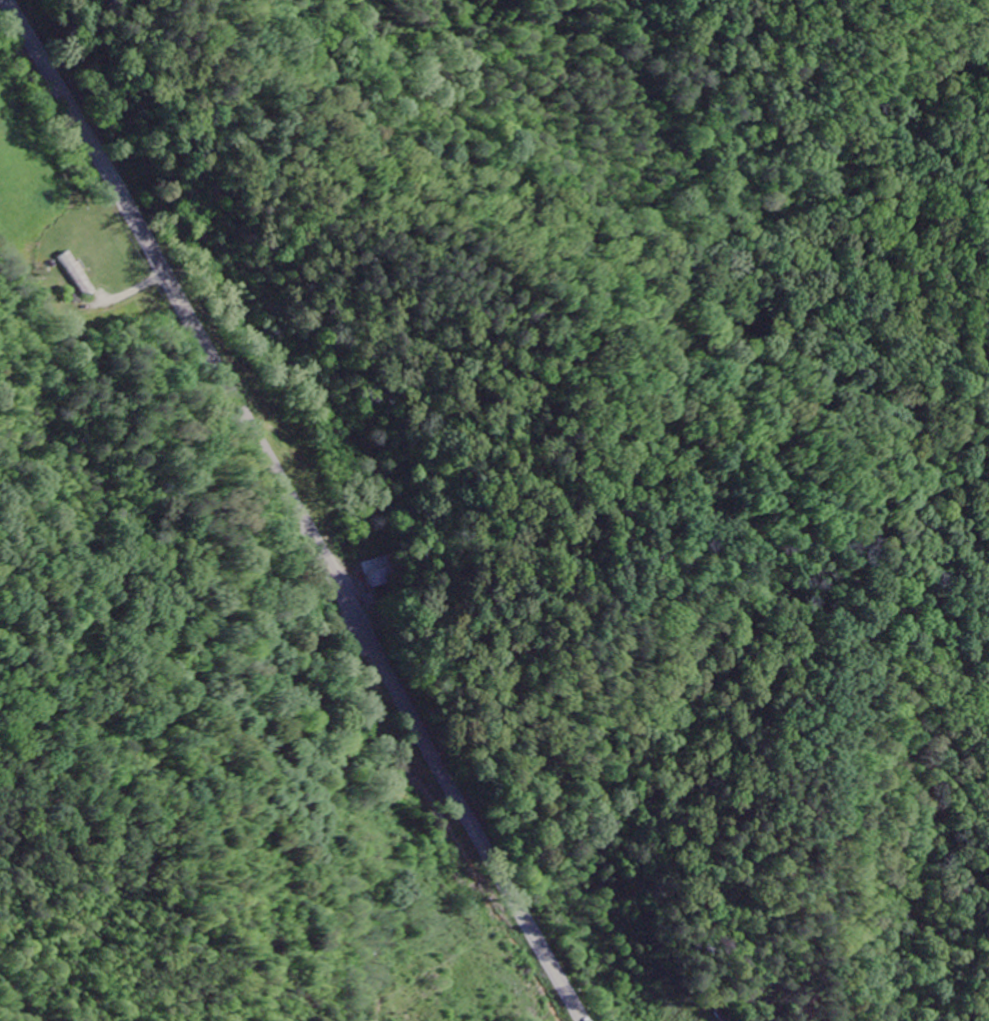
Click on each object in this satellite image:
building: (78, 276)
road: (294, 509)
building: (377, 573)
road: (929, 753)

